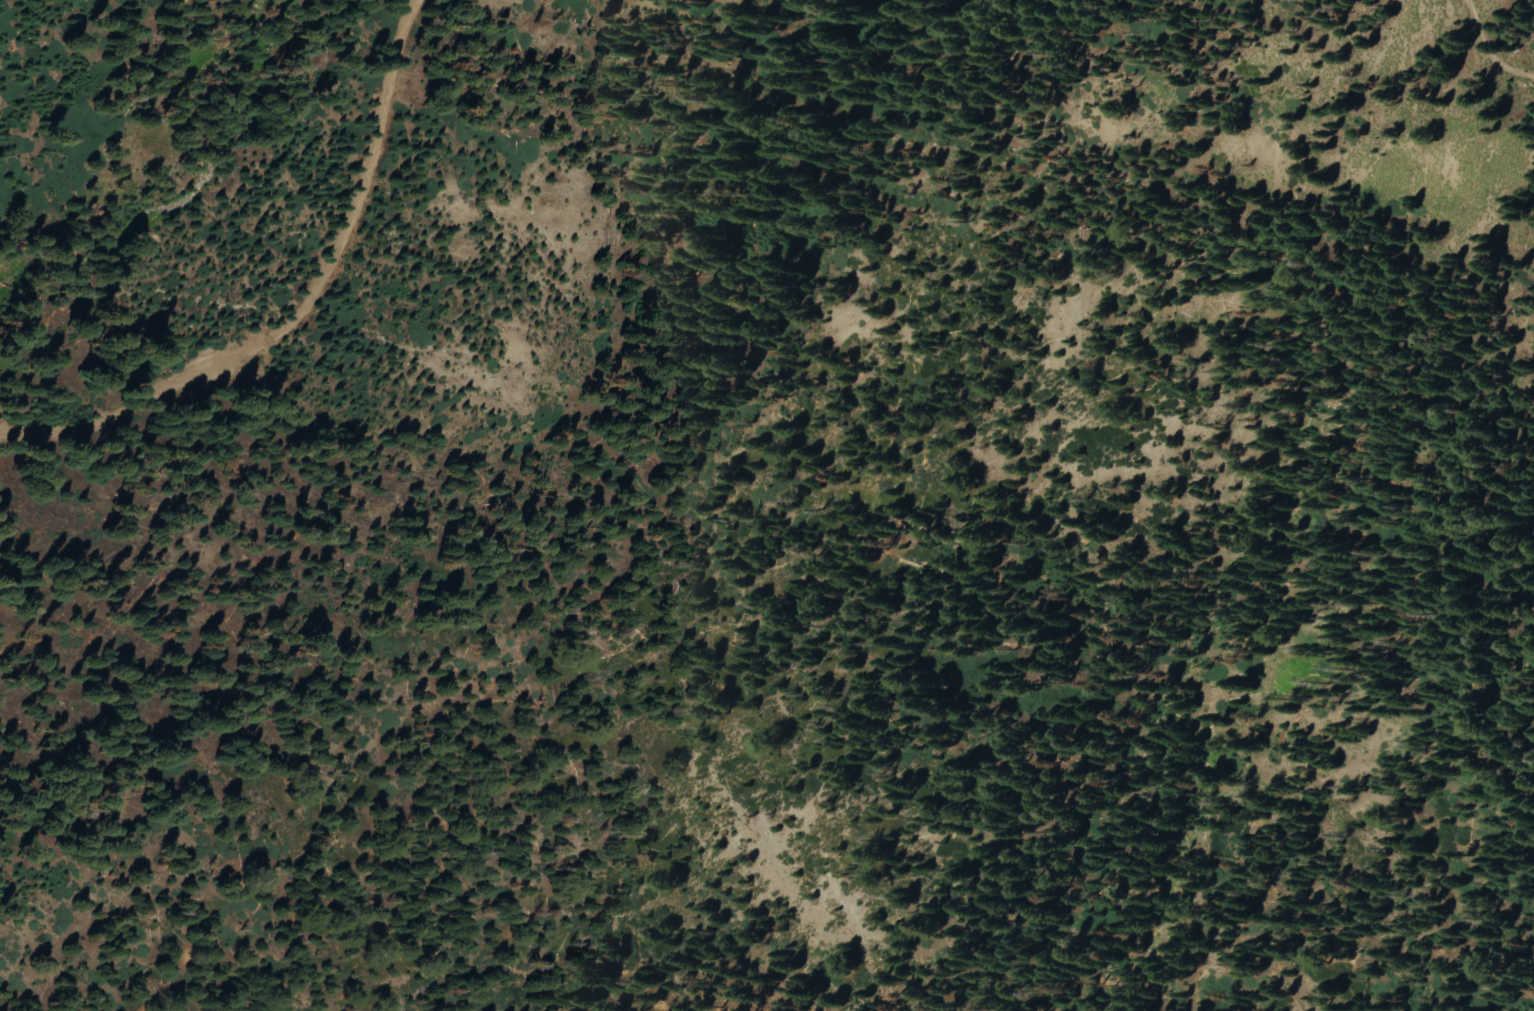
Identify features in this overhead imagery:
road: (1487, 51)
road: (96, 219)
road: (302, 312)

